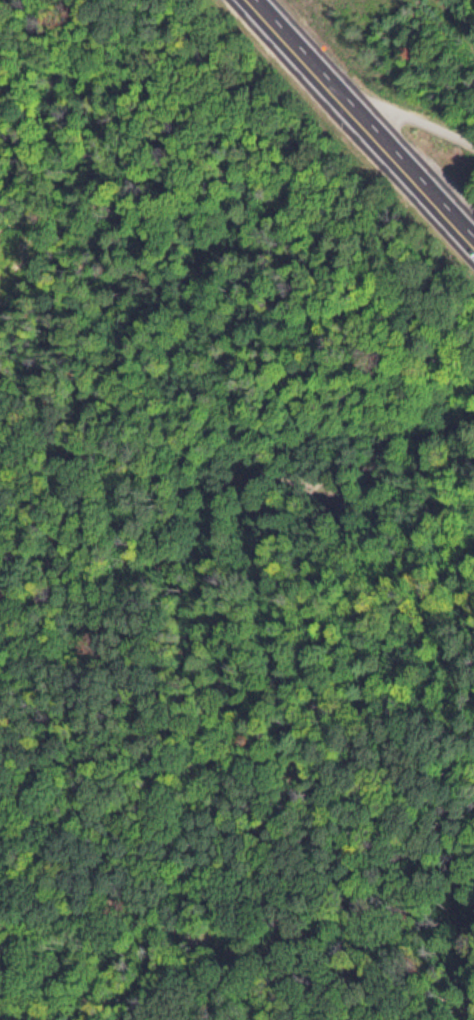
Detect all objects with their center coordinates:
road: (357, 127)

